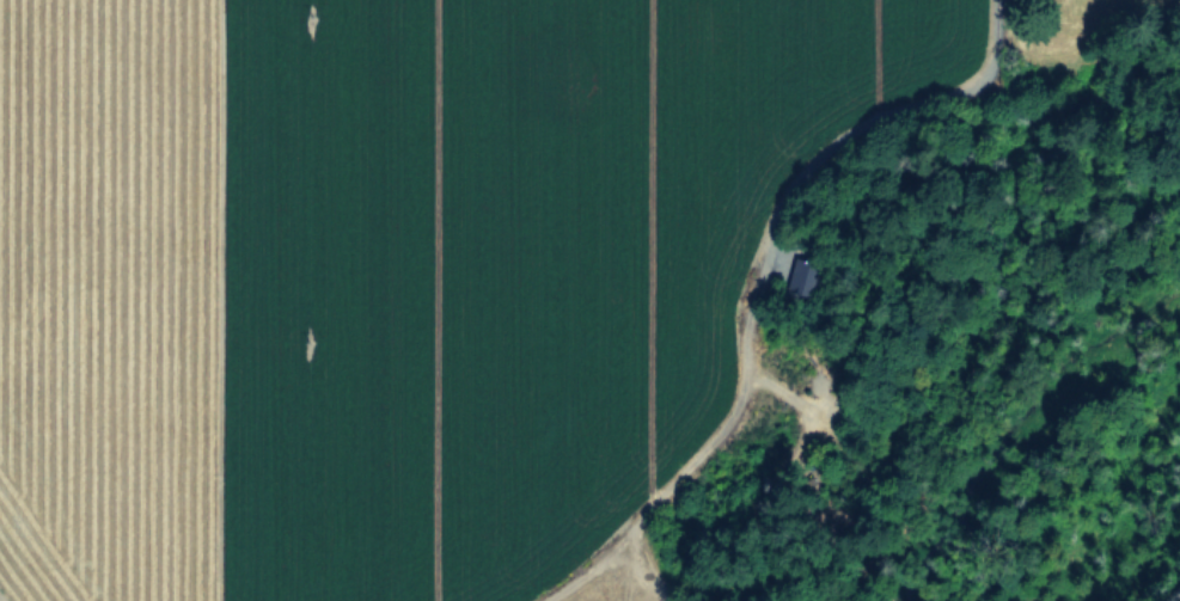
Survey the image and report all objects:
crop: (436, 265)
building: (789, 277)

